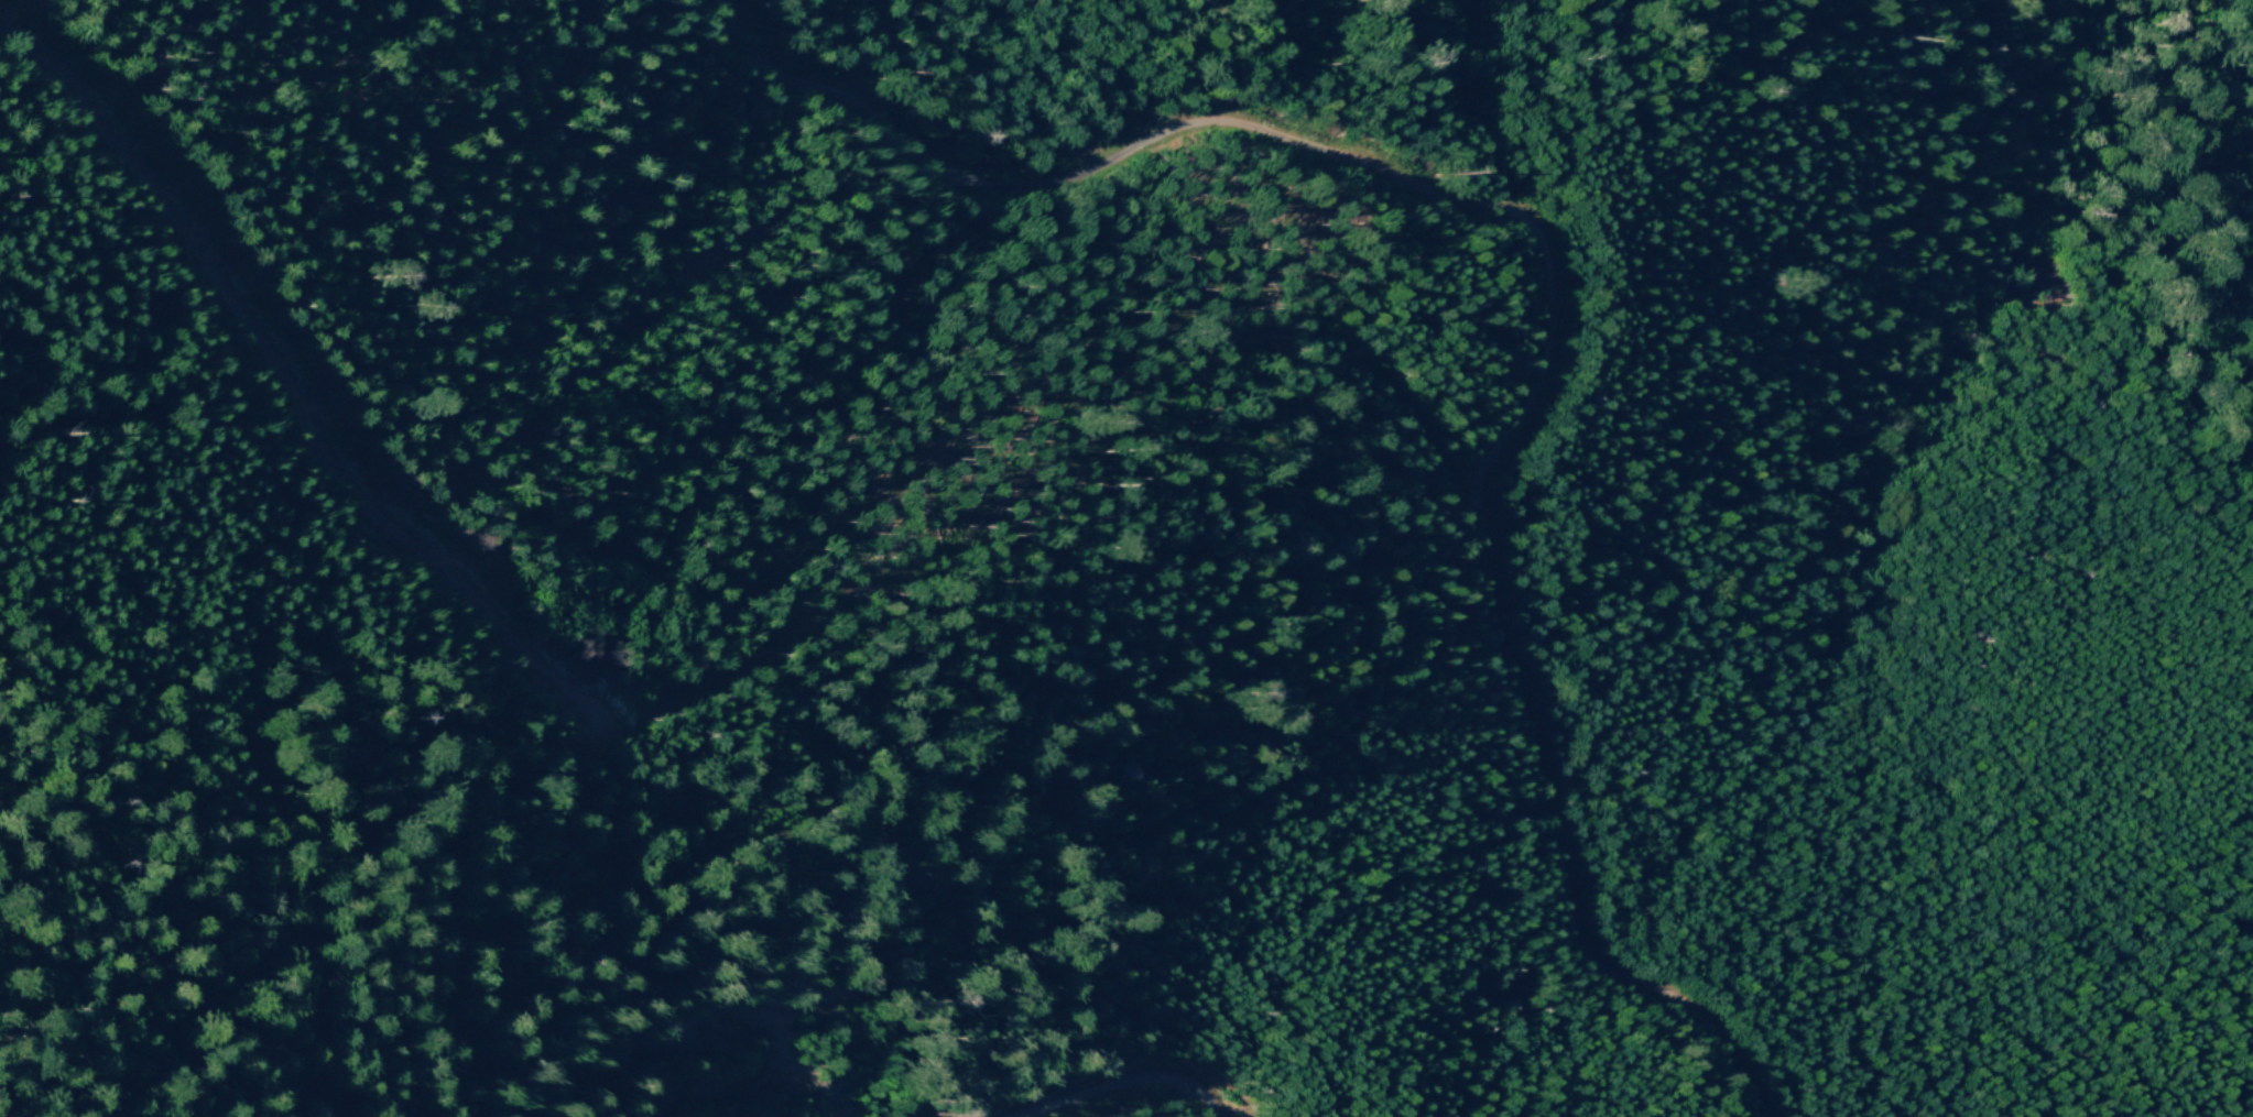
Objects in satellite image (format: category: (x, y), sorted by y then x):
road: (1549, 297)
road: (290, 379)
road: (1126, 1085)

